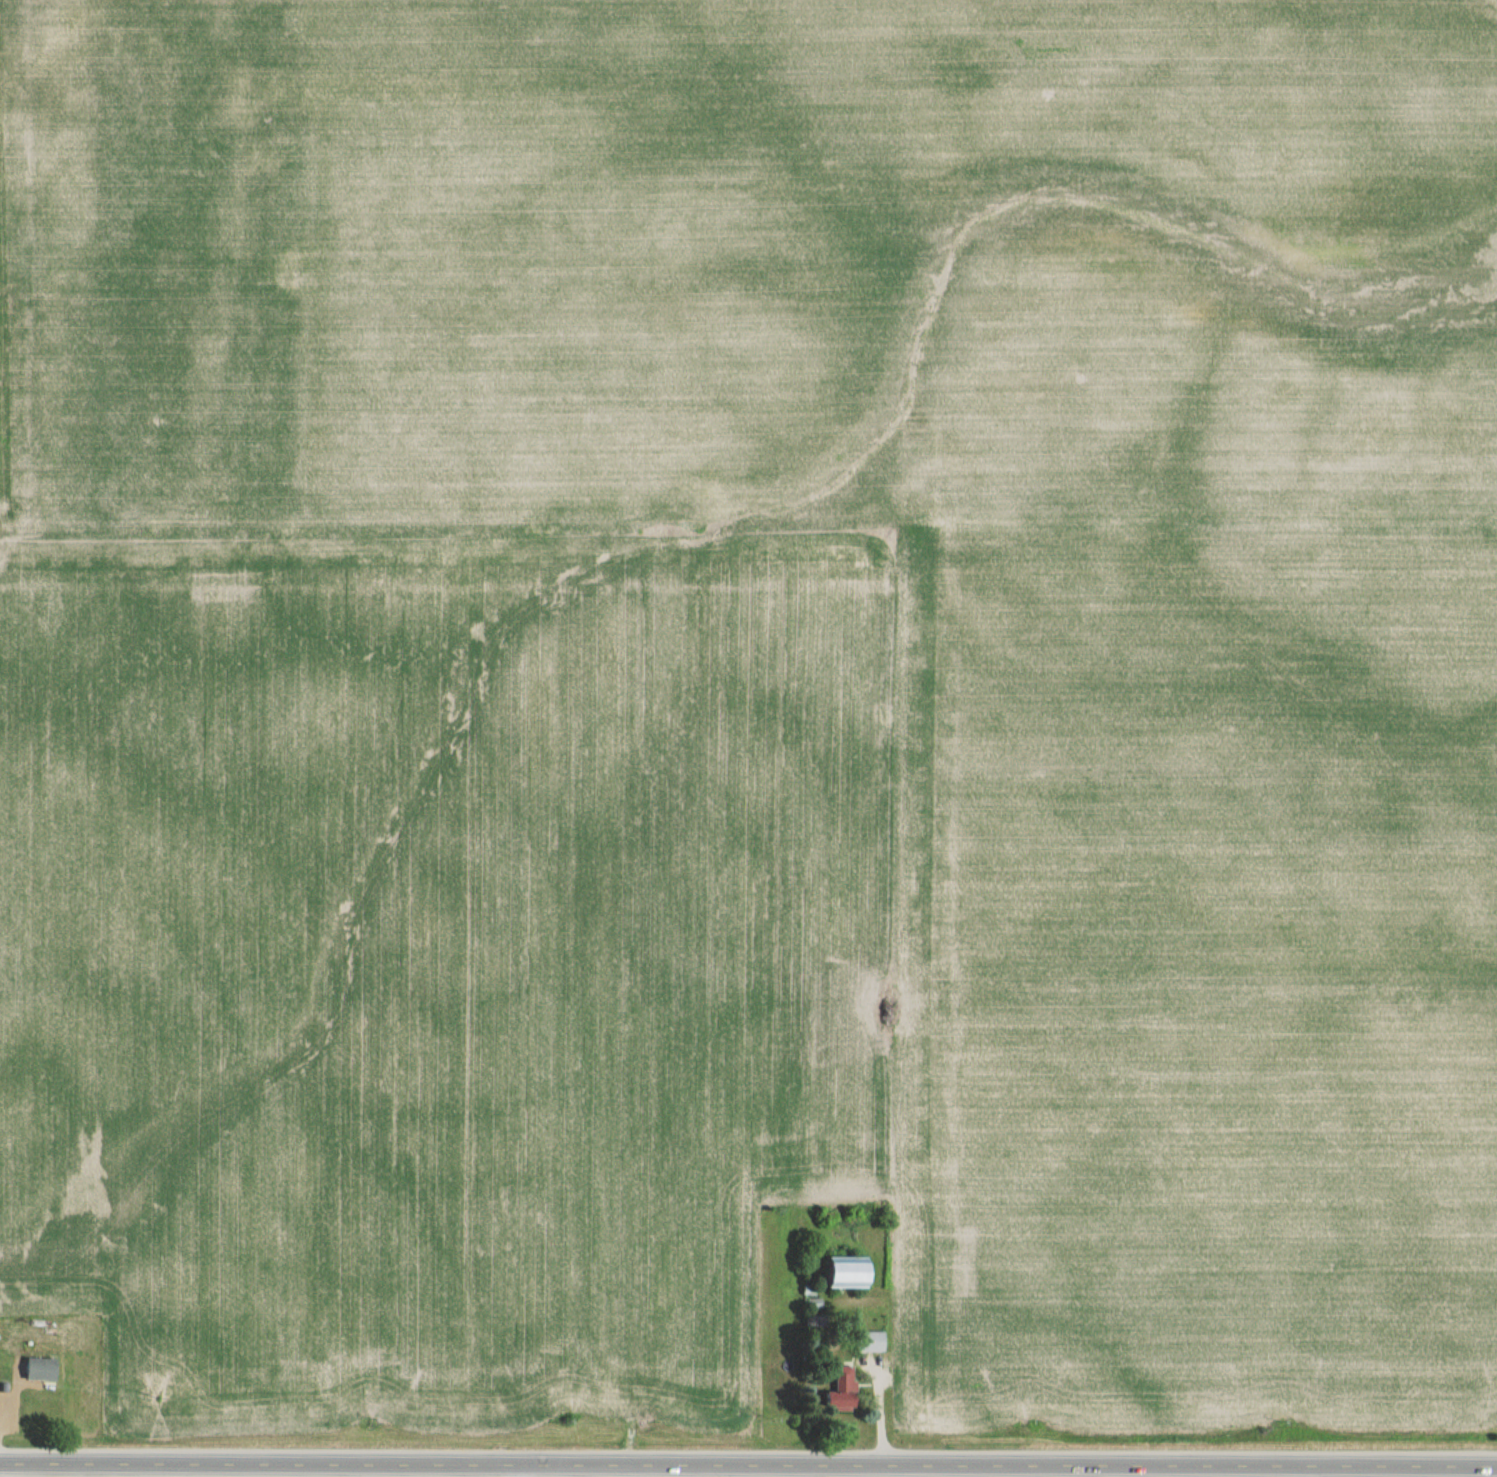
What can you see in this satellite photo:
building: (855, 1270)
building: (44, 1368)
building: (845, 1387)
road: (748, 1463)
road: (517, 1470)

